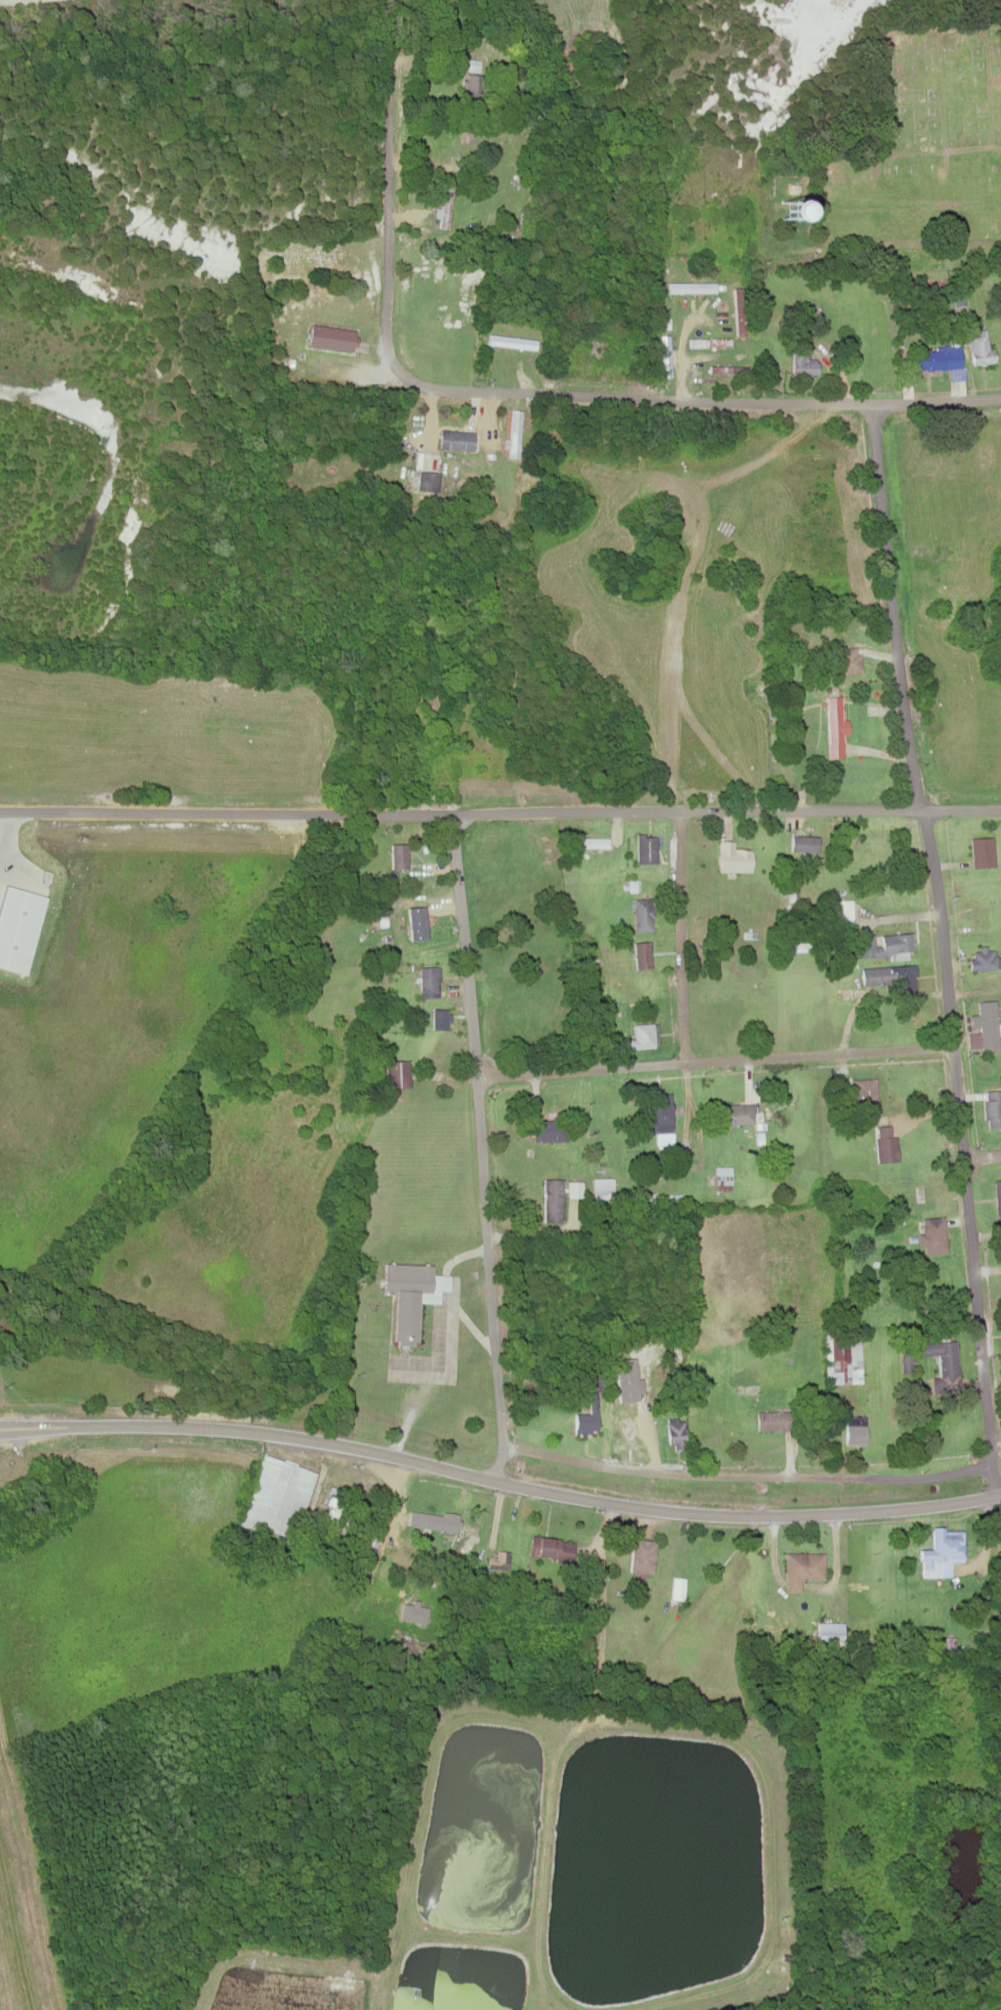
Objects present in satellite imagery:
building: (471, 64)
road: (612, 204)
building: (445, 205)
water tower: (781, 208)
building: (781, 211)
building: (976, 280)
building: (688, 286)
building: (741, 311)
building: (328, 338)
building: (509, 340)
building: (707, 341)
building: (975, 347)
building: (662, 355)
building: (933, 358)
building: (797, 359)
building: (725, 369)
road: (553, 391)
building: (513, 433)
building: (454, 439)
building: (428, 481)
building: (846, 661)
building: (833, 723)
building: (437, 776)
road: (500, 812)
building: (587, 840)
building: (801, 841)
building: (644, 848)
building: (981, 851)
building: (397, 853)
building: (731, 859)
building: (840, 909)
building: (978, 909)
building: (639, 912)
building: (422, 917)
road: (683, 937)
building: (895, 943)
road: (941, 946)
building: (640, 952)
building: (982, 960)
building: (884, 972)
building: (426, 976)
building: (842, 987)
building: (438, 1016)
building: (986, 1024)
building: (642, 1034)
road: (715, 1061)
building: (394, 1073)
building: (864, 1089)
building: (991, 1108)
building: (734, 1112)
building: (656, 1114)
building: (547, 1130)
building: (883, 1144)
road: (481, 1147)
road: (981, 1156)
building: (719, 1176)
building: (574, 1189)
building: (638, 1196)
building: (928, 1196)
building: (550, 1198)
building: (997, 1200)
building: (931, 1232)
building: (406, 1275)
building: (404, 1315)
building: (750, 1320)
building: (836, 1359)
building: (944, 1364)
building: (742, 1382)
building: (772, 1420)
building: (583, 1421)
building: (675, 1427)
building: (625, 1429)
building: (854, 1429)
road: (745, 1474)
road: (499, 1481)
building: (272, 1497)
building: (432, 1519)
building: (946, 1543)
building: (553, 1550)
building: (641, 1553)
building: (500, 1560)
building: (801, 1564)
building: (676, 1591)
building: (826, 1632)
crop: (984, 2004)

